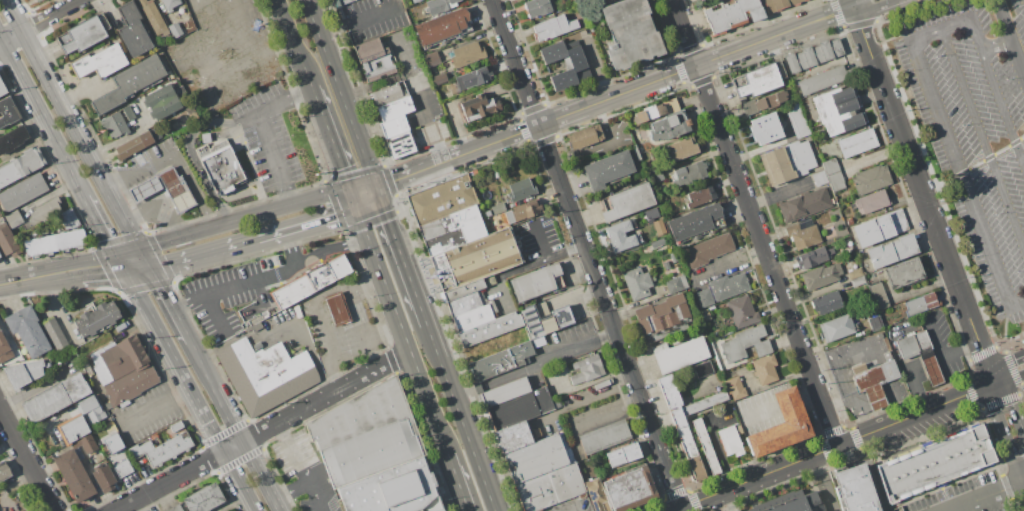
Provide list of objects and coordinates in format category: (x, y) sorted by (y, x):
building: (36, 0)
building: (38, 0)
building: (805, 0)
building: (416, 1)
building: (340, 2)
road: (851, 3)
road: (855, 3)
building: (170, 4)
building: (439, 5)
building: (779, 5)
road: (874, 7)
building: (538, 8)
building: (734, 15)
road: (47, 16)
building: (153, 17)
road: (357, 20)
road: (974, 21)
road: (1005, 21)
building: (443, 27)
building: (553, 27)
building: (133, 29)
building: (175, 29)
building: (86, 33)
building: (630, 33)
road: (11, 36)
road: (930, 36)
road: (892, 39)
road: (2, 41)
road: (296, 44)
road: (1000, 47)
building: (467, 54)
road: (1019, 54)
building: (814, 55)
building: (374, 59)
building: (434, 59)
building: (100, 61)
building: (566, 65)
building: (440, 78)
building: (473, 78)
building: (823, 79)
road: (653, 80)
building: (760, 81)
building: (131, 83)
road: (27, 84)
building: (454, 87)
building: (2, 89)
road: (340, 92)
building: (389, 93)
road: (419, 99)
building: (162, 102)
road: (1004, 102)
building: (764, 103)
building: (672, 105)
building: (478, 107)
building: (395, 108)
building: (839, 110)
building: (8, 112)
building: (129, 112)
building: (648, 113)
building: (182, 117)
building: (797, 122)
road: (68, 125)
building: (115, 126)
building: (394, 126)
building: (670, 127)
building: (765, 128)
road: (264, 131)
building: (635, 131)
parking lot: (977, 131)
building: (585, 136)
road: (984, 136)
building: (206, 137)
parking lot: (269, 137)
building: (13, 139)
road: (333, 139)
building: (857, 142)
building: (643, 143)
building: (134, 145)
building: (400, 145)
road: (190, 148)
building: (680, 149)
road: (174, 156)
building: (787, 162)
building: (221, 165)
road: (973, 165)
building: (21, 166)
road: (69, 166)
building: (608, 170)
road: (415, 171)
building: (474, 172)
road: (916, 172)
building: (689, 173)
building: (833, 174)
building: (656, 177)
building: (820, 178)
building: (871, 179)
road: (966, 179)
traffic signals: (375, 186)
building: (145, 188)
road: (364, 188)
building: (176, 189)
building: (520, 189)
traffic signals: (353, 190)
building: (22, 192)
building: (700, 196)
road: (367, 198)
building: (442, 198)
road: (356, 200)
building: (628, 202)
building: (872, 202)
building: (804, 205)
building: (498, 208)
building: (44, 210)
traffic signals: (359, 211)
building: (524, 211)
building: (651, 213)
building: (68, 218)
building: (14, 219)
road: (245, 219)
building: (651, 221)
building: (849, 221)
road: (754, 222)
building: (696, 223)
road: (364, 224)
building: (456, 224)
road: (309, 225)
building: (878, 228)
road: (102, 229)
building: (803, 234)
building: (622, 236)
building: (8, 241)
road: (540, 241)
building: (445, 242)
building: (53, 243)
road: (331, 248)
road: (290, 249)
building: (708, 250)
building: (892, 250)
traffic signals: (138, 251)
road: (588, 253)
road: (205, 254)
road: (401, 255)
building: (0, 256)
road: (130, 256)
building: (814, 257)
building: (475, 259)
traffic signals: (122, 262)
road: (136, 265)
road: (99, 266)
road: (527, 266)
traffic signals: (150, 268)
building: (904, 273)
building: (855, 274)
road: (37, 276)
building: (821, 276)
building: (312, 281)
building: (536, 282)
building: (637, 282)
building: (858, 282)
building: (676, 284)
road: (229, 286)
road: (333, 289)
building: (722, 289)
road: (165, 294)
parking lot: (233, 294)
building: (878, 295)
building: (464, 297)
road: (189, 302)
building: (827, 303)
building: (920, 304)
building: (337, 308)
building: (297, 311)
building: (742, 311)
road: (357, 312)
building: (705, 315)
building: (474, 316)
building: (563, 317)
building: (663, 317)
building: (97, 319)
building: (538, 320)
building: (874, 323)
road: (1006, 325)
building: (256, 326)
building: (836, 327)
building: (490, 328)
building: (27, 330)
building: (55, 334)
building: (879, 335)
road: (607, 337)
road: (934, 337)
road: (331, 342)
building: (745, 343)
road: (408, 345)
building: (258, 346)
building: (4, 349)
road: (944, 352)
road: (985, 352)
building: (679, 354)
building: (920, 354)
road: (845, 357)
building: (501, 361)
road: (987, 362)
road: (200, 364)
road: (1006, 365)
building: (87, 368)
road: (526, 368)
building: (586, 368)
building: (703, 368)
building: (766, 368)
building: (123, 369)
road: (969, 369)
road: (1013, 369)
building: (25, 372)
building: (266, 374)
road: (1010, 379)
building: (873, 381)
traffic signals: (996, 384)
road: (189, 386)
road: (919, 387)
building: (735, 388)
road: (971, 394)
road: (1023, 395)
road: (696, 396)
road: (808, 396)
road: (852, 396)
building: (56, 397)
road: (584, 400)
road: (839, 402)
road: (1000, 402)
building: (515, 403)
road: (787, 404)
building: (107, 405)
road: (674, 405)
road: (157, 406)
road: (1013, 407)
building: (91, 410)
road: (658, 412)
parking lot: (145, 413)
building: (360, 414)
road: (607, 414)
road: (760, 414)
road: (461, 417)
building: (781, 426)
road: (1002, 427)
building: (103, 429)
road: (261, 430)
building: (77, 434)
building: (98, 434)
building: (154, 436)
building: (604, 436)
building: (514, 437)
building: (730, 439)
building: (685, 440)
building: (112, 443)
road: (716, 443)
road: (834, 446)
building: (164, 447)
building: (706, 447)
road: (242, 449)
road: (293, 451)
building: (373, 452)
building: (623, 455)
road: (843, 456)
building: (538, 457)
road: (26, 460)
road: (999, 462)
building: (935, 463)
building: (121, 466)
building: (4, 470)
building: (74, 473)
building: (104, 477)
road: (960, 480)
road: (458, 482)
road: (825, 483)
building: (550, 487)
building: (629, 489)
road: (854, 489)
building: (855, 489)
building: (394, 490)
road: (290, 491)
building: (597, 495)
road: (316, 496)
road: (990, 496)
parking lot: (828, 497)
parking lot: (966, 497)
building: (205, 498)
road: (945, 499)
road: (725, 501)
building: (790, 502)
building: (175, 508)

